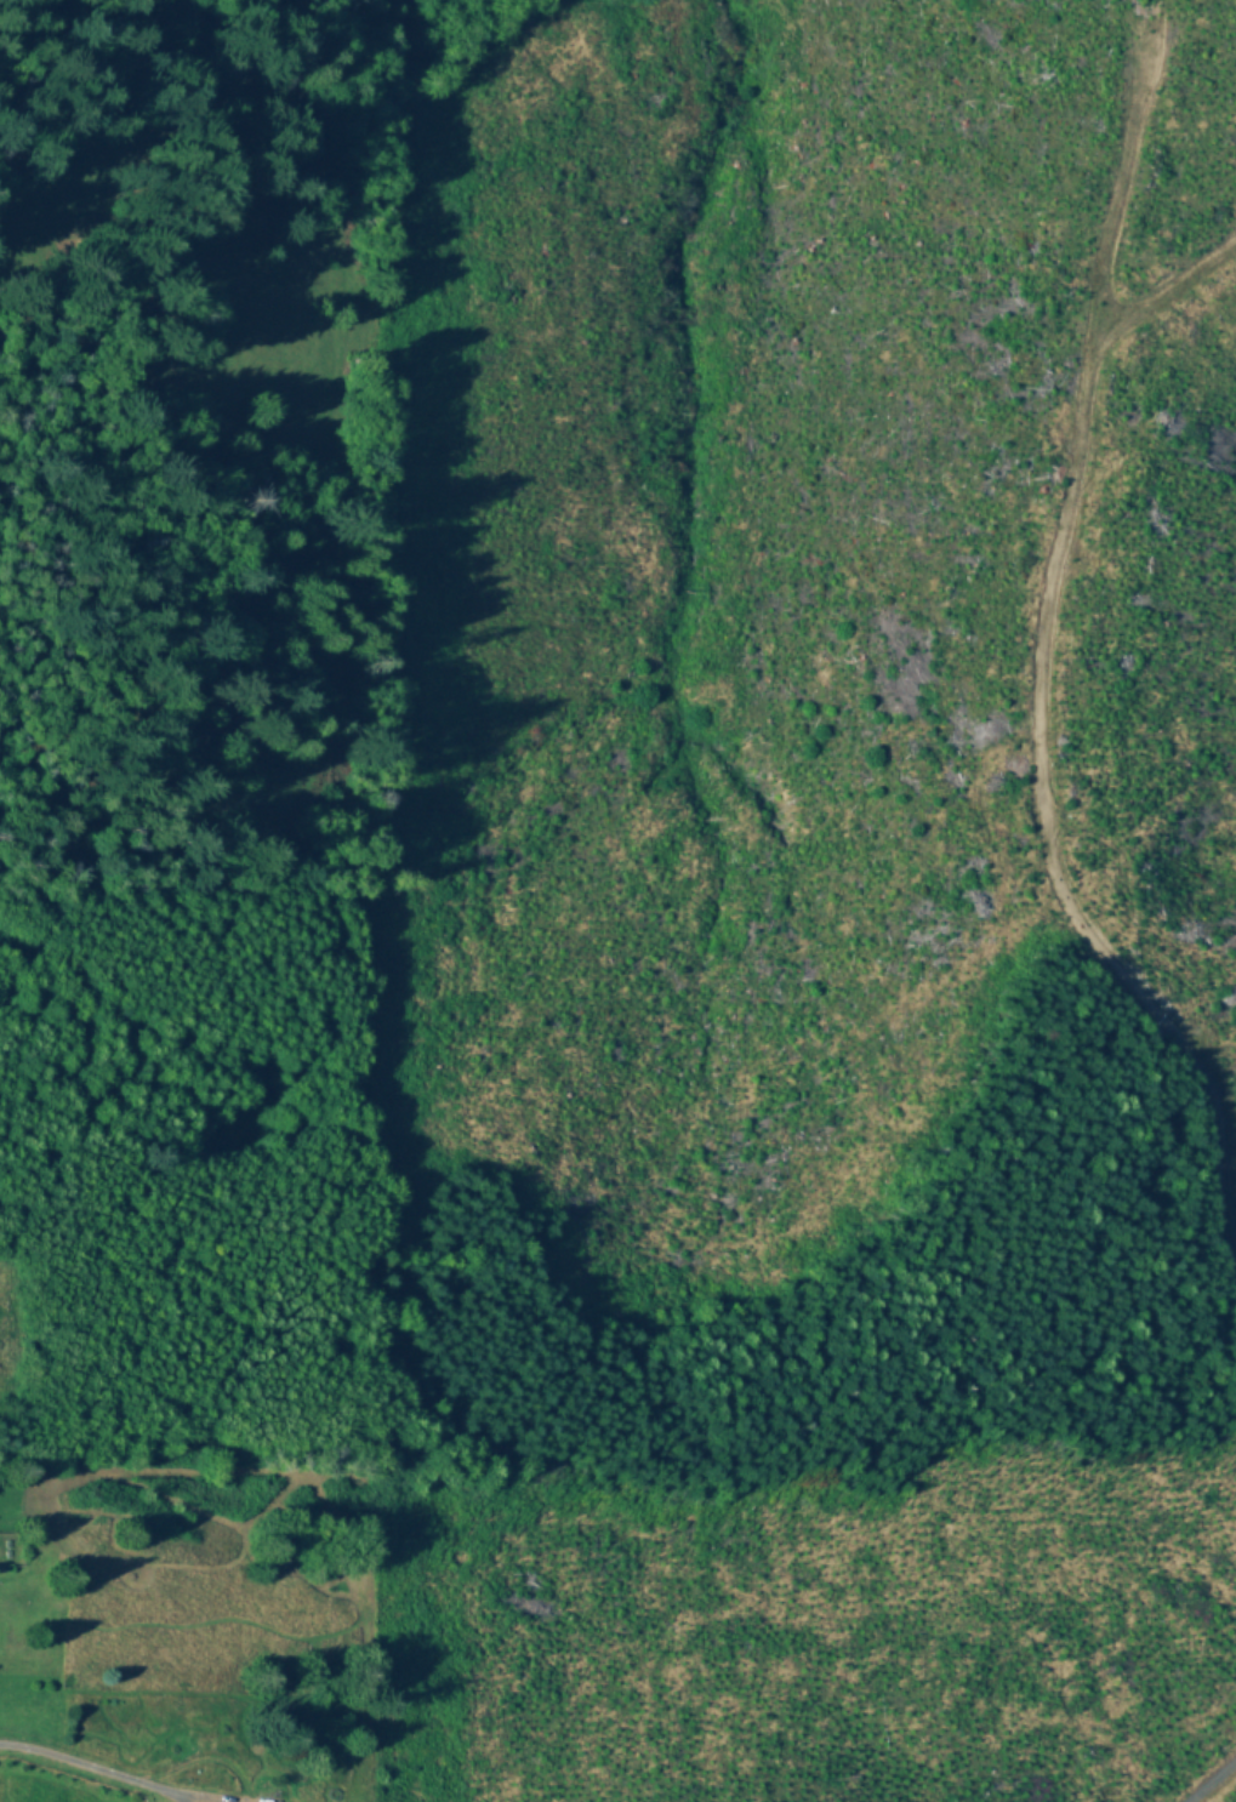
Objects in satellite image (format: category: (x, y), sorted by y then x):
road: (93, 1763)

